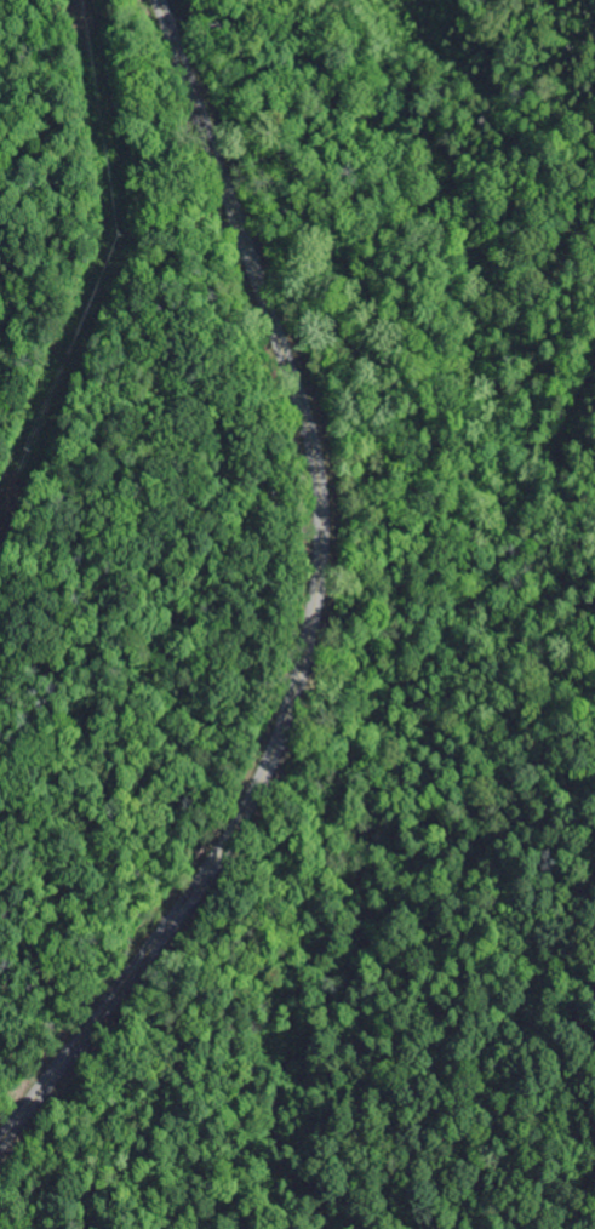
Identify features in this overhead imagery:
road: (316, 607)

